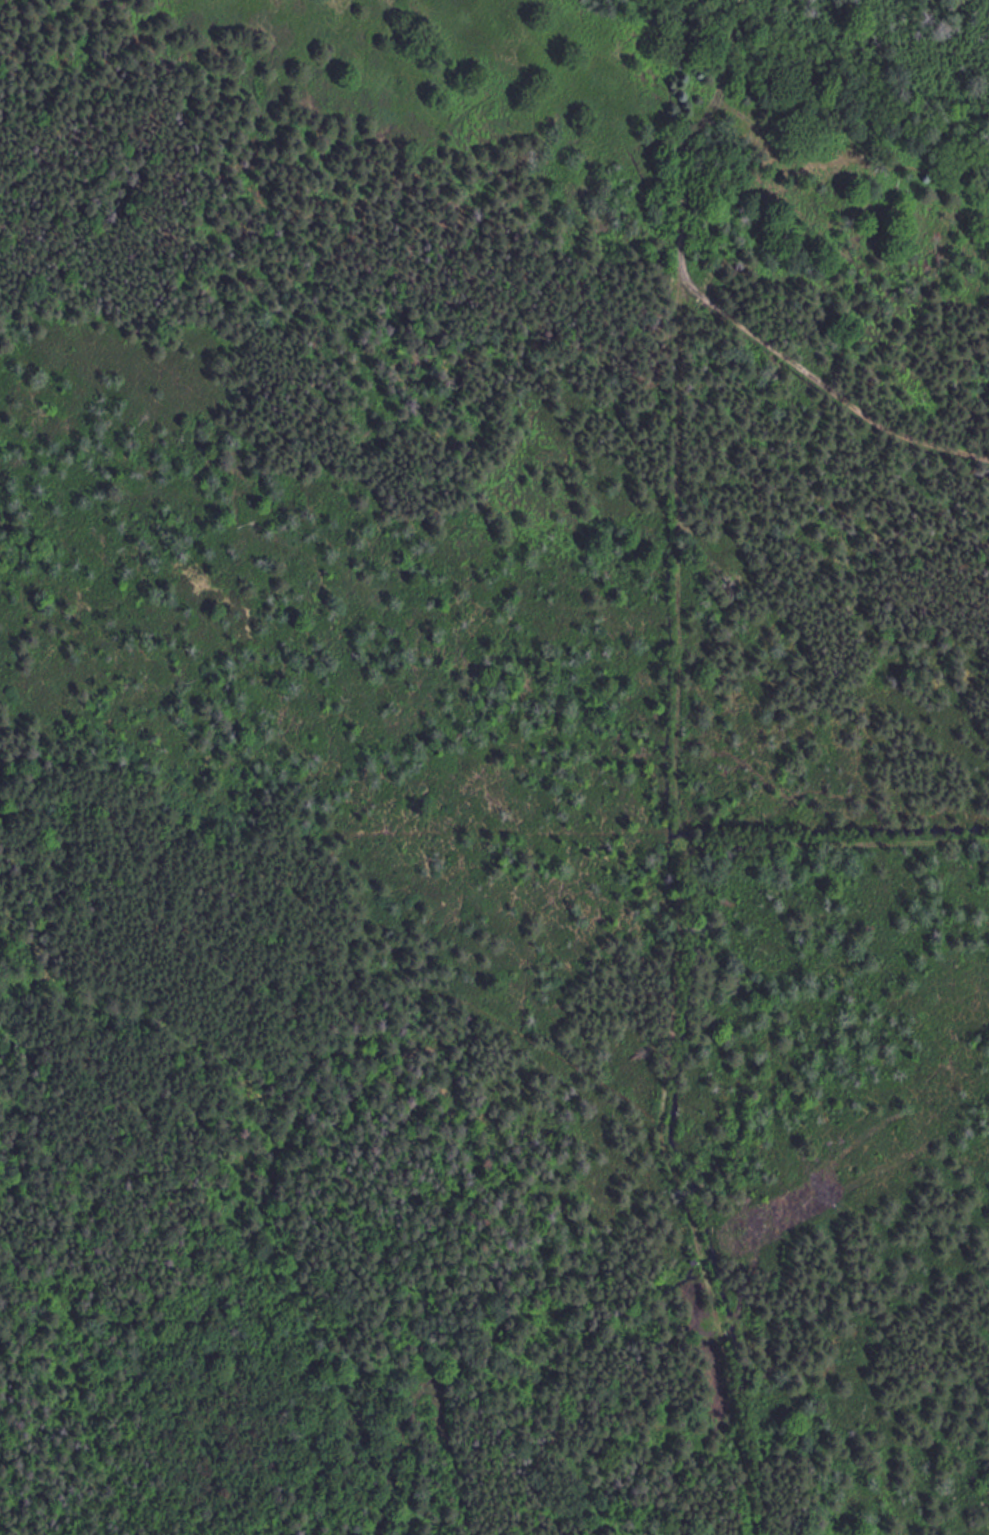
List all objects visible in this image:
road: (716, 282)
road: (668, 932)

